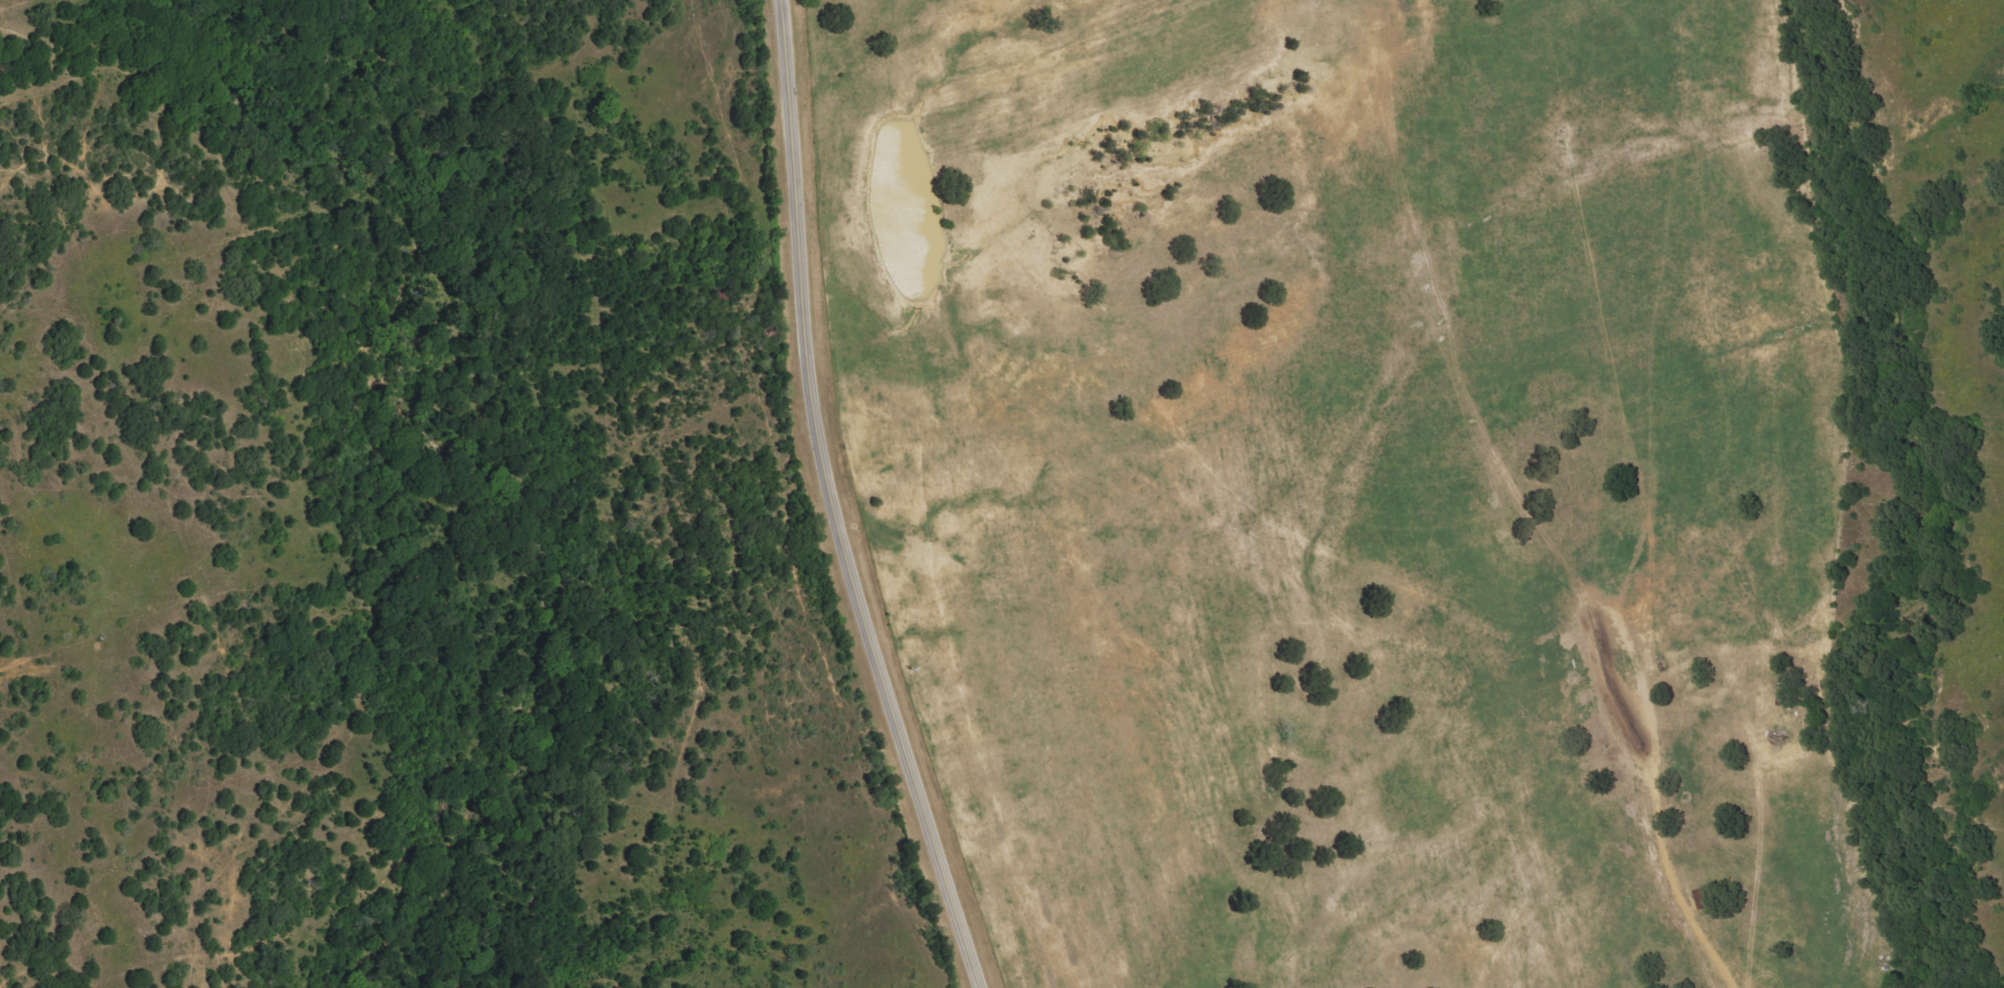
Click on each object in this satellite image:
road: (402, 68)
road: (227, 256)
road: (645, 475)
road: (832, 503)

